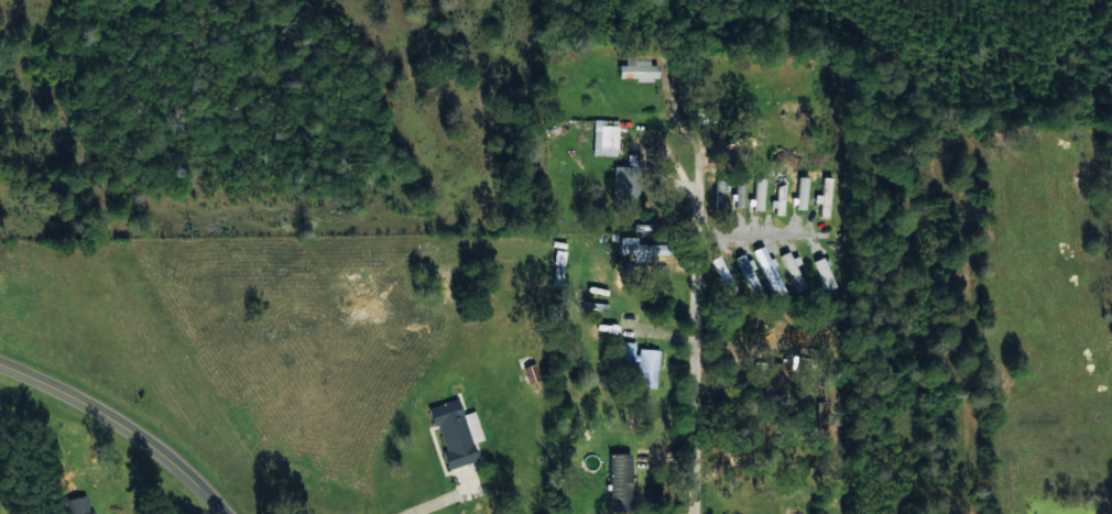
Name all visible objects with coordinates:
building: (639, 66)
building: (604, 136)
building: (626, 179)
building: (757, 195)
building: (778, 195)
building: (824, 197)
building: (642, 248)
road: (676, 256)
building: (793, 270)
building: (768, 271)
building: (723, 274)
building: (748, 274)
building: (642, 363)
building: (531, 372)
building: (775, 376)
road: (119, 427)
building: (457, 433)
road: (984, 445)
building: (785, 452)
building: (620, 481)
building: (76, 505)

